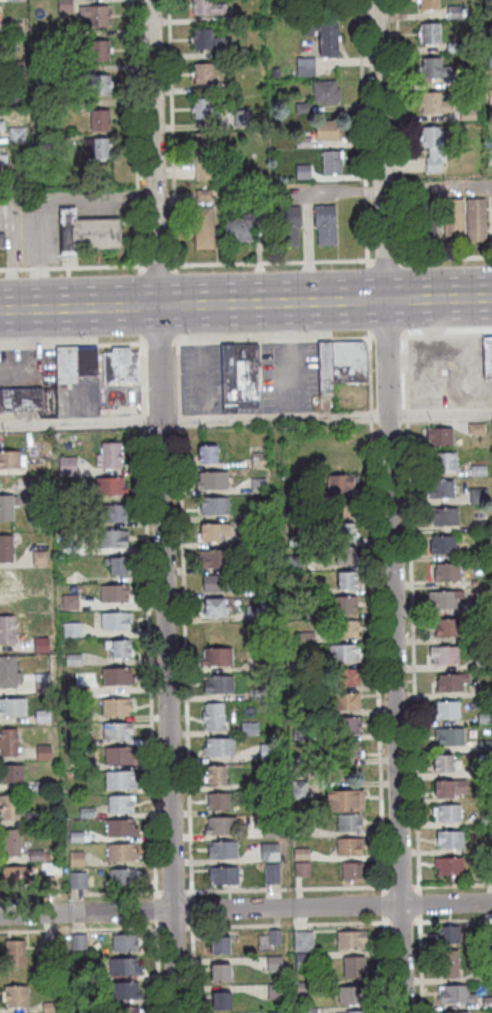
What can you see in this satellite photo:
building: (13, 0)
building: (429, 5)
building: (64, 6)
building: (207, 7)
building: (454, 13)
building: (95, 15)
building: (239, 18)
building: (14, 29)
building: (430, 33)
building: (324, 35)
building: (62, 36)
building: (206, 39)
building: (454, 48)
building: (99, 50)
building: (240, 53)
building: (489, 60)
building: (16, 67)
building: (305, 67)
building: (435, 69)
building: (70, 70)
building: (203, 73)
building: (465, 82)
building: (100, 84)
building: (326, 92)
building: (490, 97)
building: (15, 99)
building: (71, 104)
building: (434, 104)
building: (303, 108)
building: (205, 109)
building: (467, 115)
building: (241, 118)
building: (100, 120)
building: (0, 123)
building: (2, 125)
building: (328, 130)
road: (362, 132)
road: (398, 132)
road: (171, 134)
building: (17, 135)
road: (135, 135)
building: (204, 142)
building: (302, 142)
building: (44, 144)
building: (97, 148)
building: (433, 148)
building: (1, 158)
building: (332, 161)
building: (204, 167)
building: (303, 171)
building: (255, 174)
building: (14, 177)
building: (203, 195)
building: (262, 215)
building: (475, 219)
building: (453, 220)
building: (426, 221)
building: (325, 224)
building: (289, 225)
building: (203, 227)
building: (238, 231)
building: (86, 232)
building: (2, 240)
road: (444, 257)
road: (384, 259)
road: (270, 261)
street lamp: (460, 263)
road: (157, 264)
road: (72, 266)
street lamp: (360, 266)
road: (402, 298)
road: (366, 299)
road: (175, 303)
road: (245, 303)
road: (140, 304)
street lamp: (411, 327)
road: (466, 334)
road: (386, 335)
road: (412, 335)
road: (432, 335)
road: (334, 337)
road: (288, 338)
road: (242, 340)
road: (404, 340)
road: (158, 341)
road: (182, 341)
road: (199, 341)
road: (71, 343)
road: (200, 358)
building: (487, 358)
road: (288, 360)
road: (405, 360)
building: (87, 361)
building: (348, 362)
building: (66, 365)
building: (120, 366)
building: (325, 369)
road: (369, 371)
road: (177, 375)
parking lot: (289, 375)
road: (141, 376)
building: (240, 377)
parking lot: (202, 378)
road: (405, 389)
road: (129, 392)
building: (20, 399)
road: (117, 408)
road: (370, 415)
road: (406, 415)
road: (179, 420)
road: (246, 420)
road: (143, 422)
building: (476, 429)
building: (440, 436)
building: (208, 454)
building: (110, 455)
building: (11, 460)
building: (258, 461)
building: (443, 461)
building: (67, 467)
building: (35, 468)
building: (478, 471)
building: (212, 481)
building: (338, 483)
building: (110, 486)
building: (258, 486)
building: (35, 487)
building: (440, 489)
building: (296, 492)
building: (478, 497)
building: (17, 501)
road: (161, 506)
building: (213, 506)
road: (389, 506)
building: (6, 508)
building: (336, 508)
building: (112, 514)
building: (259, 514)
building: (444, 516)
building: (479, 527)
building: (214, 531)
building: (345, 531)
building: (77, 535)
building: (112, 539)
building: (297, 541)
building: (443, 545)
building: (6, 548)
building: (70, 548)
building: (479, 554)
building: (345, 555)
building: (39, 558)
building: (214, 558)
building: (106, 562)
building: (294, 563)
building: (118, 565)
building: (447, 572)
building: (346, 579)
building: (6, 582)
building: (217, 584)
building: (474, 584)
building: (306, 589)
building: (264, 591)
building: (39, 593)
building: (114, 594)
building: (444, 600)
building: (71, 603)
building: (345, 605)
building: (214, 607)
building: (260, 612)
building: (115, 621)
building: (450, 628)
building: (345, 629)
building: (7, 630)
building: (72, 630)
building: (483, 636)
building: (306, 637)
building: (41, 645)
building: (120, 648)
building: (344, 654)
building: (444, 655)
road: (412, 656)
building: (217, 657)
building: (72, 660)
road: (185, 661)
road: (149, 663)
building: (298, 663)
building: (482, 663)
building: (260, 667)
road: (376, 669)
building: (8, 672)
building: (117, 677)
building: (344, 678)
building: (451, 683)
building: (218, 685)
building: (42, 688)
building: (82, 692)
building: (483, 692)
building: (260, 695)
building: (346, 702)
building: (13, 707)
building: (116, 707)
building: (447, 710)
building: (301, 711)
building: (81, 716)
building: (42, 717)
building: (213, 717)
building: (485, 719)
building: (288, 722)
building: (347, 726)
building: (249, 729)
building: (117, 731)
building: (300, 735)
building: (449, 736)
building: (82, 741)
building: (9, 743)
building: (485, 746)
building: (219, 748)
building: (350, 750)
building: (44, 753)
building: (267, 753)
building: (118, 756)
building: (301, 760)
building: (443, 763)
building: (82, 765)
building: (484, 770)
building: (12, 773)
building: (215, 774)
building: (119, 780)
building: (268, 784)
building: (43, 787)
building: (450, 789)
building: (299, 790)
building: (345, 801)
building: (218, 802)
building: (119, 805)
building: (10, 807)
building: (447, 813)
building: (86, 814)
building: (33, 820)
building: (486, 820)
building: (348, 823)
building: (220, 826)
building: (121, 829)
building: (300, 829)
building: (269, 831)
building: (76, 838)
building: (450, 840)
building: (10, 843)
building: (349, 847)
building: (222, 851)
building: (121, 853)
building: (269, 853)
building: (301, 855)
building: (37, 856)
building: (77, 860)
building: (449, 866)
building: (302, 870)
building: (350, 871)
building: (487, 874)
building: (13, 876)
building: (223, 876)
building: (272, 876)
building: (123, 877)
building: (78, 881)
building: (52, 884)
road: (452, 884)
road: (299, 888)
road: (172, 891)
road: (79, 893)
road: (418, 903)
road: (191, 908)
road: (245, 908)
road: (155, 909)
road: (245, 925)
building: (486, 934)
building: (449, 935)
building: (274, 937)
building: (351, 940)
building: (303, 941)
building: (79, 942)
building: (125, 943)
building: (220, 946)
building: (15, 953)
building: (304, 961)
building: (274, 964)
road: (384, 964)
road: (420, 964)
building: (448, 964)
building: (125, 967)
road: (156, 967)
road: (192, 967)
building: (354, 967)
building: (220, 973)
building: (304, 988)
building: (124, 991)
building: (275, 992)
building: (353, 995)
building: (456, 995)
building: (17, 997)
building: (221, 1001)
building: (487, 1003)
building: (50, 1008)
building: (126, 1010)
building: (309, 1011)
building: (274, 1012)
building: (356, 1012)
building: (454, 1012)

